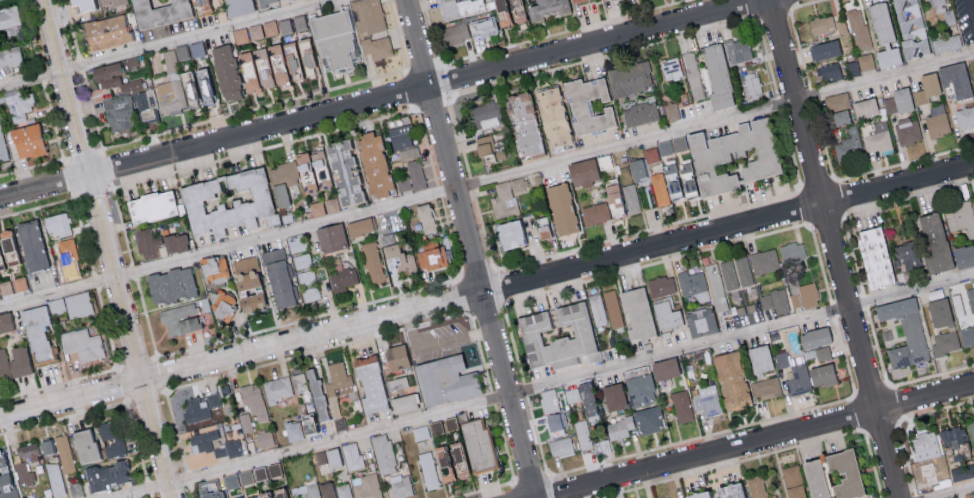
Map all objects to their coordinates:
building: (602, 0)
building: (575, 1)
building: (266, 2)
road: (803, 3)
building: (80, 4)
building: (938, 5)
building: (200, 6)
building: (237, 7)
building: (457, 8)
road: (754, 8)
building: (546, 9)
road: (778, 11)
building: (153, 12)
building: (506, 12)
road: (970, 12)
building: (368, 16)
building: (10, 17)
building: (840, 24)
building: (821, 25)
building: (482, 27)
building: (269, 28)
building: (859, 28)
road: (71, 29)
building: (911, 29)
road: (431, 31)
road: (563, 31)
building: (104, 32)
building: (247, 33)
road: (30, 34)
building: (454, 34)
road: (398, 35)
building: (883, 35)
building: (332, 39)
road: (166, 43)
building: (945, 43)
building: (377, 47)
road: (799, 47)
building: (188, 50)
building: (737, 50)
building: (823, 50)
building: (9, 56)
road: (604, 56)
road: (768, 58)
building: (298, 59)
building: (170, 61)
building: (866, 61)
road: (81, 65)
road: (424, 67)
building: (671, 68)
building: (854, 68)
building: (829, 72)
building: (225, 73)
road: (42, 75)
building: (693, 75)
building: (717, 75)
building: (113, 78)
building: (630, 78)
road: (445, 79)
building: (954, 80)
building: (751, 83)
building: (205, 86)
building: (926, 88)
road: (412, 90)
road: (812, 94)
building: (173, 95)
road: (382, 99)
building: (901, 99)
building: (836, 101)
road: (433, 102)
building: (17, 103)
road: (779, 103)
building: (586, 105)
building: (888, 105)
road: (254, 108)
building: (864, 108)
building: (671, 111)
road: (93, 112)
building: (639, 113)
building: (485, 114)
building: (965, 116)
building: (551, 117)
building: (838, 118)
road: (54, 121)
building: (937, 121)
building: (523, 123)
building: (908, 130)
building: (400, 136)
building: (876, 136)
road: (459, 137)
building: (25, 141)
road: (823, 141)
building: (849, 144)
road: (427, 146)
building: (664, 147)
building: (2, 149)
road: (263, 149)
building: (484, 149)
road: (791, 149)
road: (100, 153)
building: (408, 153)
building: (651, 154)
building: (718, 161)
road: (904, 163)
building: (373, 164)
road: (34, 166)
building: (638, 169)
building: (582, 172)
building: (321, 173)
building: (416, 175)
road: (486, 179)
building: (403, 183)
road: (471, 183)
road: (817, 184)
road: (439, 191)
building: (647, 194)
building: (507, 196)
road: (907, 197)
building: (630, 198)
road: (838, 198)
building: (226, 200)
building: (973, 201)
building: (150, 205)
building: (604, 206)
road: (805, 206)
road: (39, 207)
building: (316, 208)
building: (560, 209)
building: (425, 217)
building: (960, 217)
road: (826, 220)
building: (56, 223)
road: (122, 225)
building: (358, 225)
road: (483, 229)
road: (647, 229)
building: (543, 232)
building: (330, 235)
building: (508, 235)
road: (83, 236)
road: (451, 237)
building: (933, 240)
building: (147, 242)
building: (175, 242)
building: (30, 243)
road: (834, 248)
building: (6, 249)
road: (106, 249)
road: (472, 249)
building: (792, 251)
building: (963, 254)
building: (430, 255)
road: (853, 255)
building: (874, 255)
building: (905, 255)
building: (397, 256)
building: (68, 257)
building: (372, 260)
building: (764, 260)
road: (654, 262)
road: (820, 262)
building: (213, 267)
building: (244, 270)
building: (743, 270)
road: (134, 271)
road: (477, 272)
building: (729, 274)
building: (277, 276)
building: (342, 278)
road: (95, 281)
building: (19, 283)
building: (170, 284)
building: (693, 284)
building: (662, 285)
building: (716, 286)
building: (5, 287)
road: (498, 288)
road: (486, 290)
building: (310, 293)
building: (802, 294)
road: (466, 296)
building: (775, 300)
building: (250, 301)
road: (866, 301)
building: (971, 302)
building: (78, 304)
building: (57, 305)
building: (613, 308)
building: (222, 309)
building: (598, 309)
road: (832, 309)
building: (938, 311)
road: (488, 312)
building: (637, 312)
building: (666, 315)
road: (309, 317)
building: (180, 318)
road: (147, 320)
building: (6, 321)
building: (700, 321)
building: (906, 324)
road: (107, 328)
building: (582, 332)
building: (38, 334)
building: (813, 336)
building: (967, 336)
building: (945, 341)
building: (83, 343)
road: (436, 343)
road: (513, 345)
road: (320, 349)
road: (481, 353)
building: (818, 353)
building: (395, 356)
building: (898, 356)
building: (759, 357)
building: (781, 359)
building: (14, 361)
road: (154, 361)
building: (663, 368)
building: (808, 377)
building: (443, 379)
building: (731, 379)
road: (60, 382)
building: (299, 382)
building: (397, 383)
building: (370, 384)
road: (542, 385)
road: (890, 385)
road: (892, 385)
building: (766, 387)
building: (277, 388)
building: (639, 388)
building: (338, 389)
road: (525, 390)
building: (612, 395)
building: (318, 397)
road: (493, 398)
building: (583, 398)
building: (549, 400)
building: (708, 400)
building: (253, 401)
building: (402, 402)
building: (681, 406)
building: (200, 407)
road: (859, 414)
road: (63, 418)
building: (647, 419)
road: (900, 419)
building: (246, 421)
building: (552, 422)
road: (745, 425)
road: (881, 426)
building: (433, 427)
building: (619, 427)
road: (176, 428)
building: (971, 428)
building: (292, 430)
building: (583, 434)
road: (537, 435)
building: (952, 436)
road: (135, 438)
building: (264, 438)
building: (108, 439)
building: (202, 440)
road: (761, 442)
building: (924, 442)
building: (475, 443)
road: (504, 443)
building: (82, 444)
building: (46, 445)
building: (601, 445)
building: (560, 446)
building: (233, 447)
building: (220, 451)
building: (383, 453)
building: (351, 455)
building: (320, 456)
building: (331, 457)
building: (25, 461)
road: (730, 462)
road: (873, 465)
building: (428, 469)
building: (843, 472)
building: (962, 472)
building: (107, 474)
building: (251, 474)
road: (553, 474)
building: (791, 474)
road: (188, 477)
road: (531, 477)
building: (54, 478)
building: (812, 478)
building: (5, 479)
building: (75, 486)
building: (367, 486)
building: (400, 486)
road: (555, 486)
road: (148, 487)
building: (757, 487)
building: (320, 489)
road: (481, 489)
road: (516, 489)
road: (192, 491)
building: (344, 491)
building: (794, 491)
building: (715, 492)
road: (951, 492)
building: (209, 493)
road: (915, 495)
road: (151, 496)
building: (972, 497)

